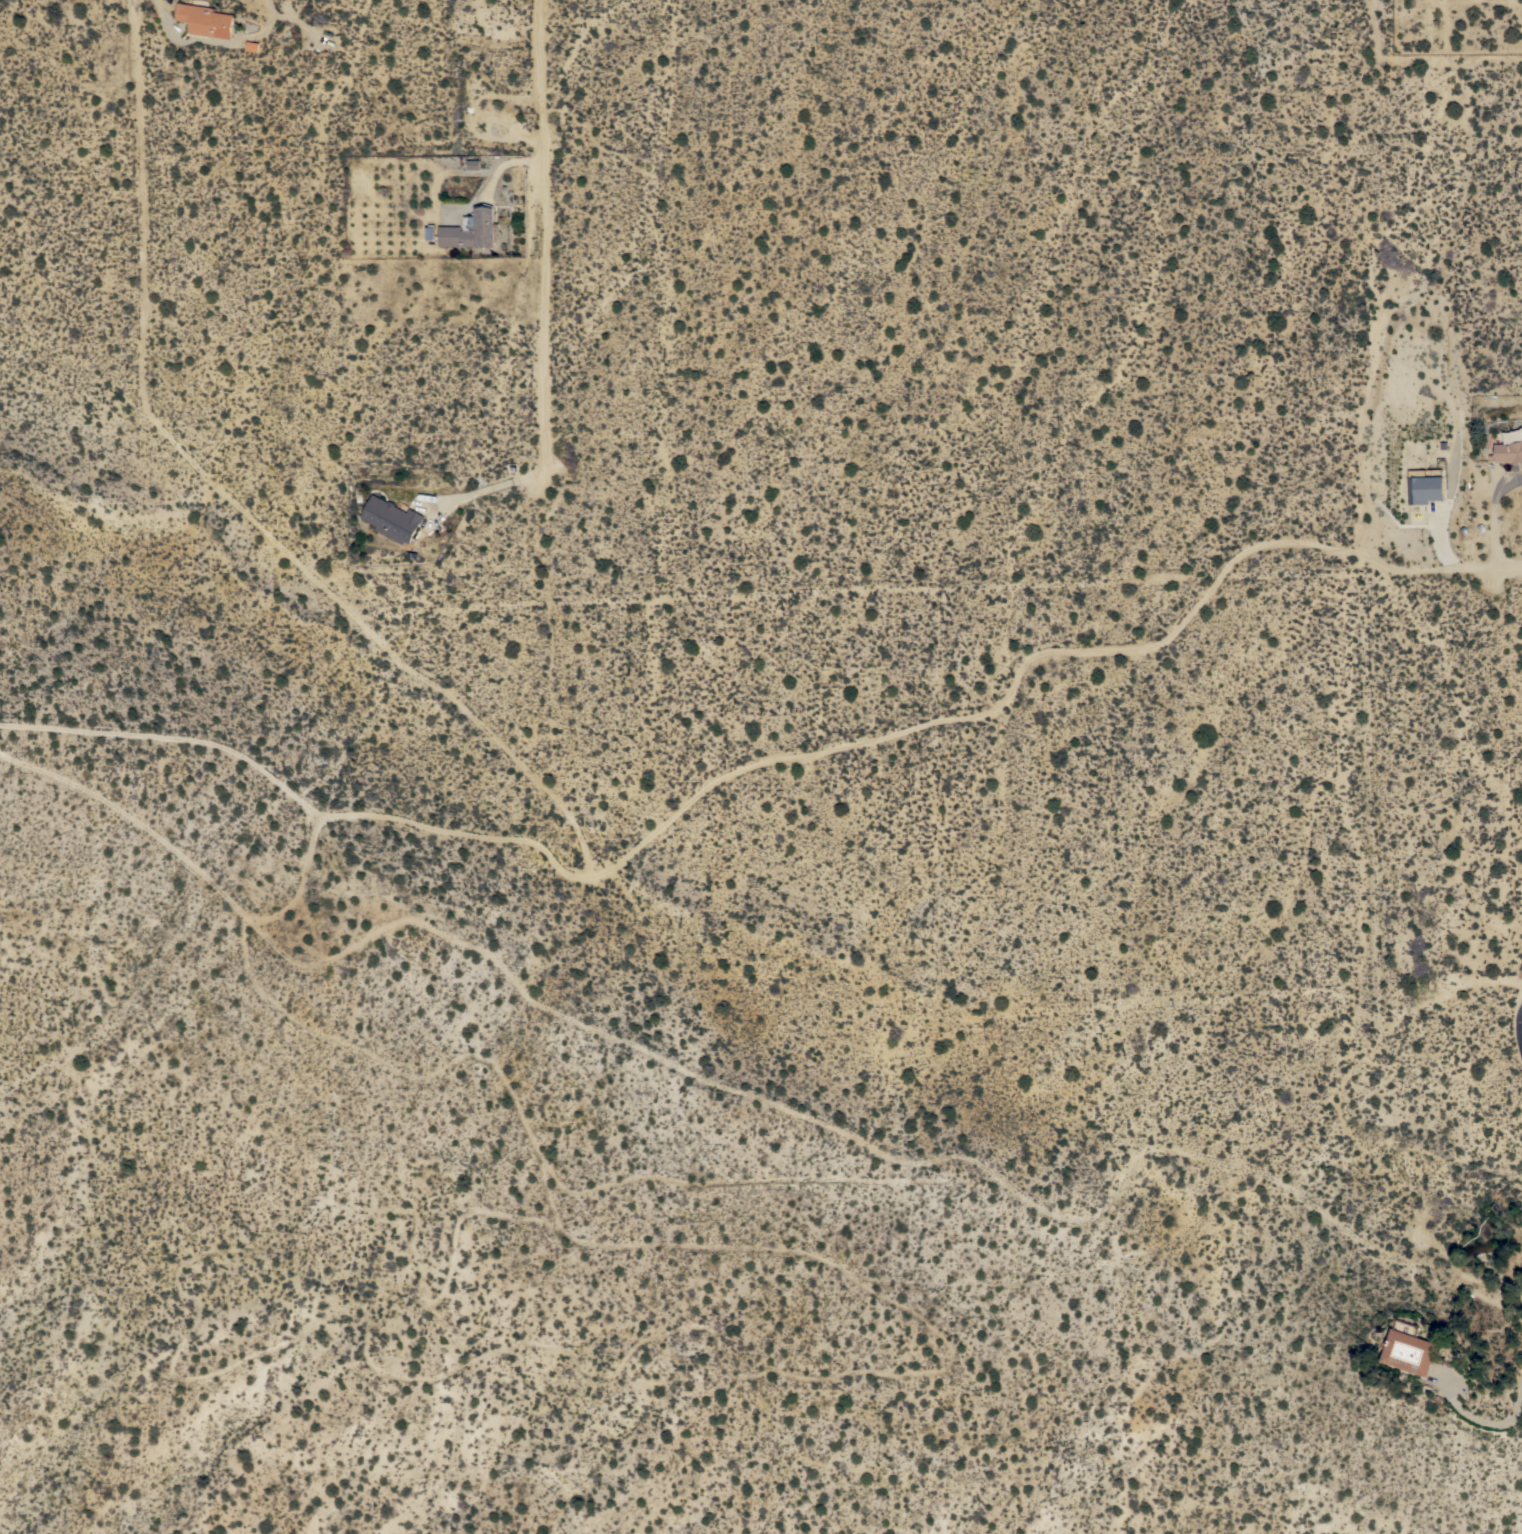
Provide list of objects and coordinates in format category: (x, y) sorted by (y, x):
building: (205, 20)
road: (218, 44)
building: (251, 46)
building: (473, 164)
building: (471, 229)
road: (542, 236)
building: (1510, 447)
road: (529, 477)
building: (1425, 486)
road: (478, 491)
road: (230, 499)
road: (1493, 516)
building: (392, 519)
road: (938, 590)
road: (1005, 703)
road: (576, 742)
road: (936, 794)
road: (300, 803)
road: (299, 879)
road: (1266, 994)
road: (1521, 1023)
road: (747, 1099)
building: (1410, 1349)
road: (1482, 1414)

